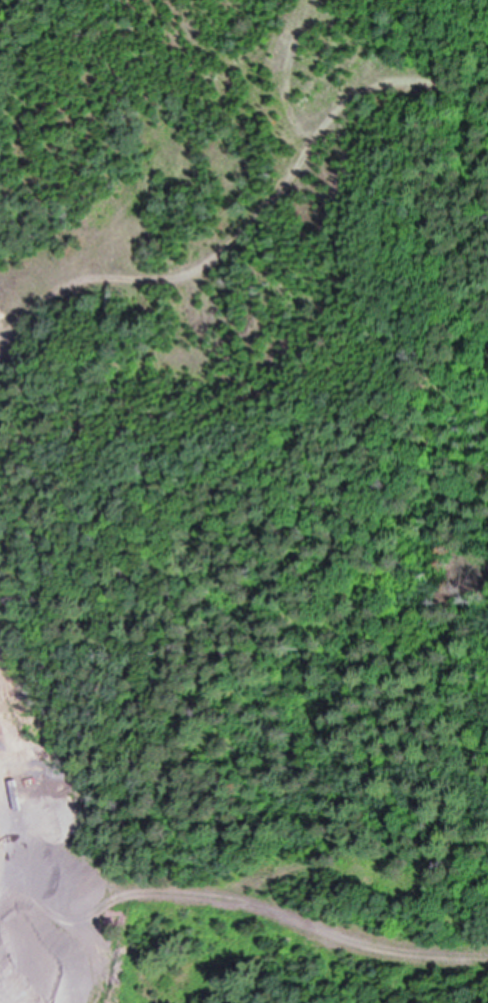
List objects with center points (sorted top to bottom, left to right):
road: (262, 211)
quarry: (4, 407)
quarry: (167, 535)
quarry: (69, 895)
road: (246, 901)

